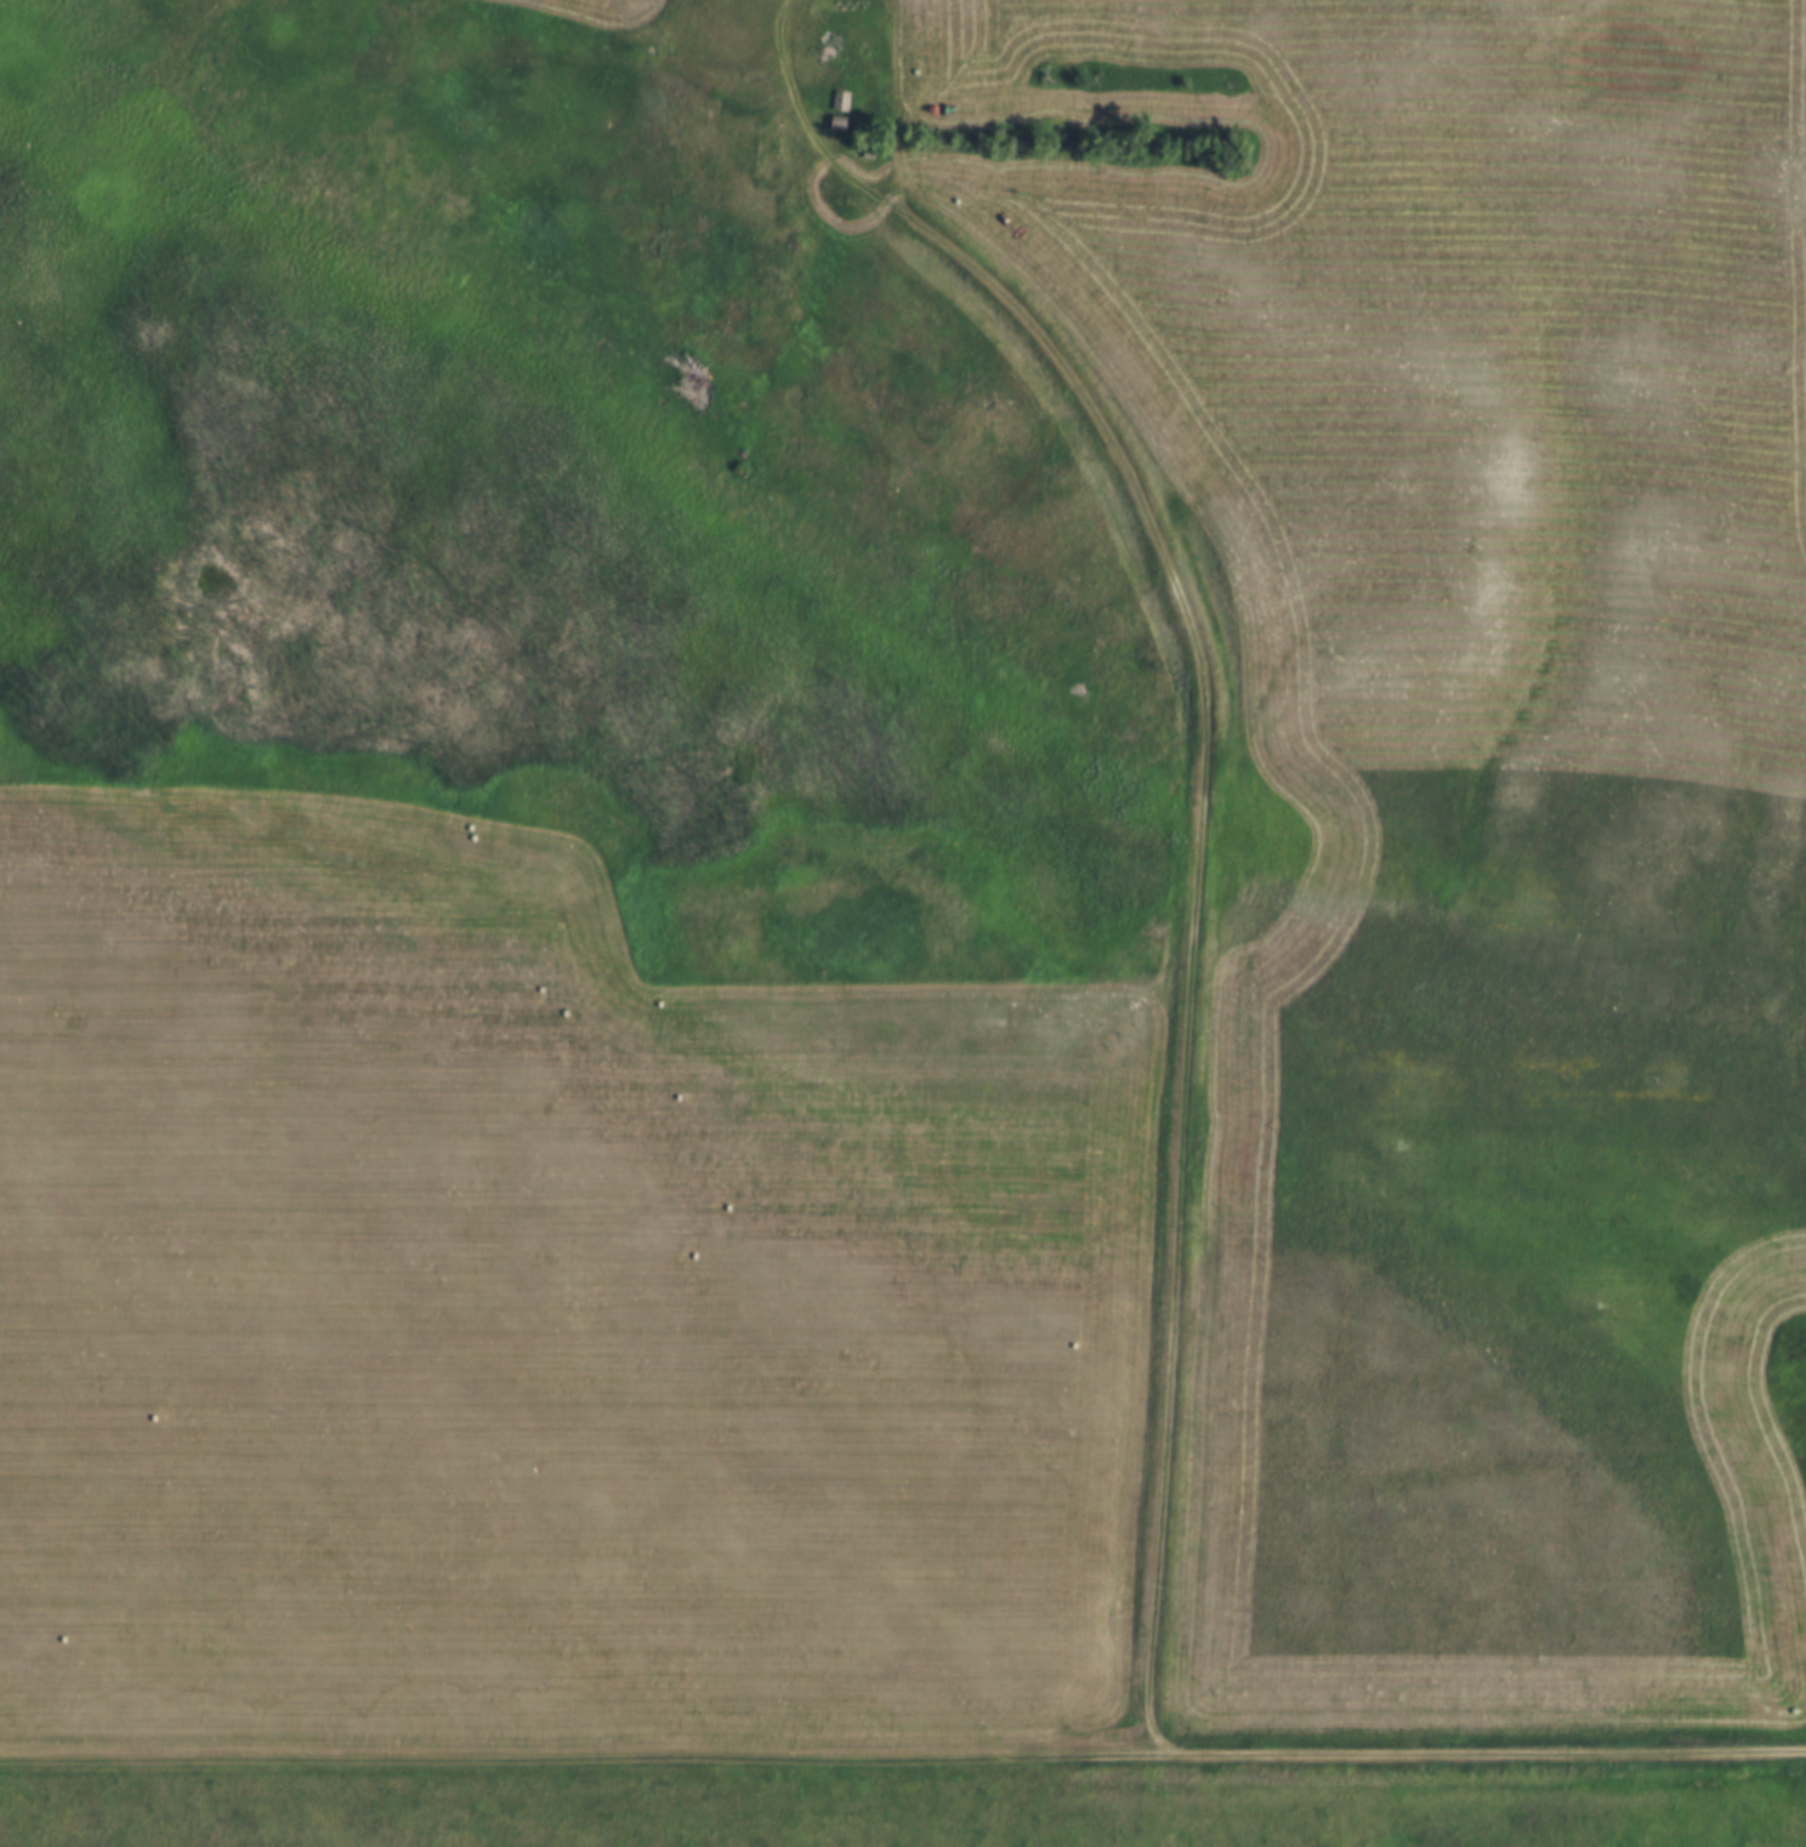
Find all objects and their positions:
building: (835, 103)
building: (834, 125)
building: (1429, 388)
building: (1501, 795)
road: (1196, 925)
road: (903, 1756)

